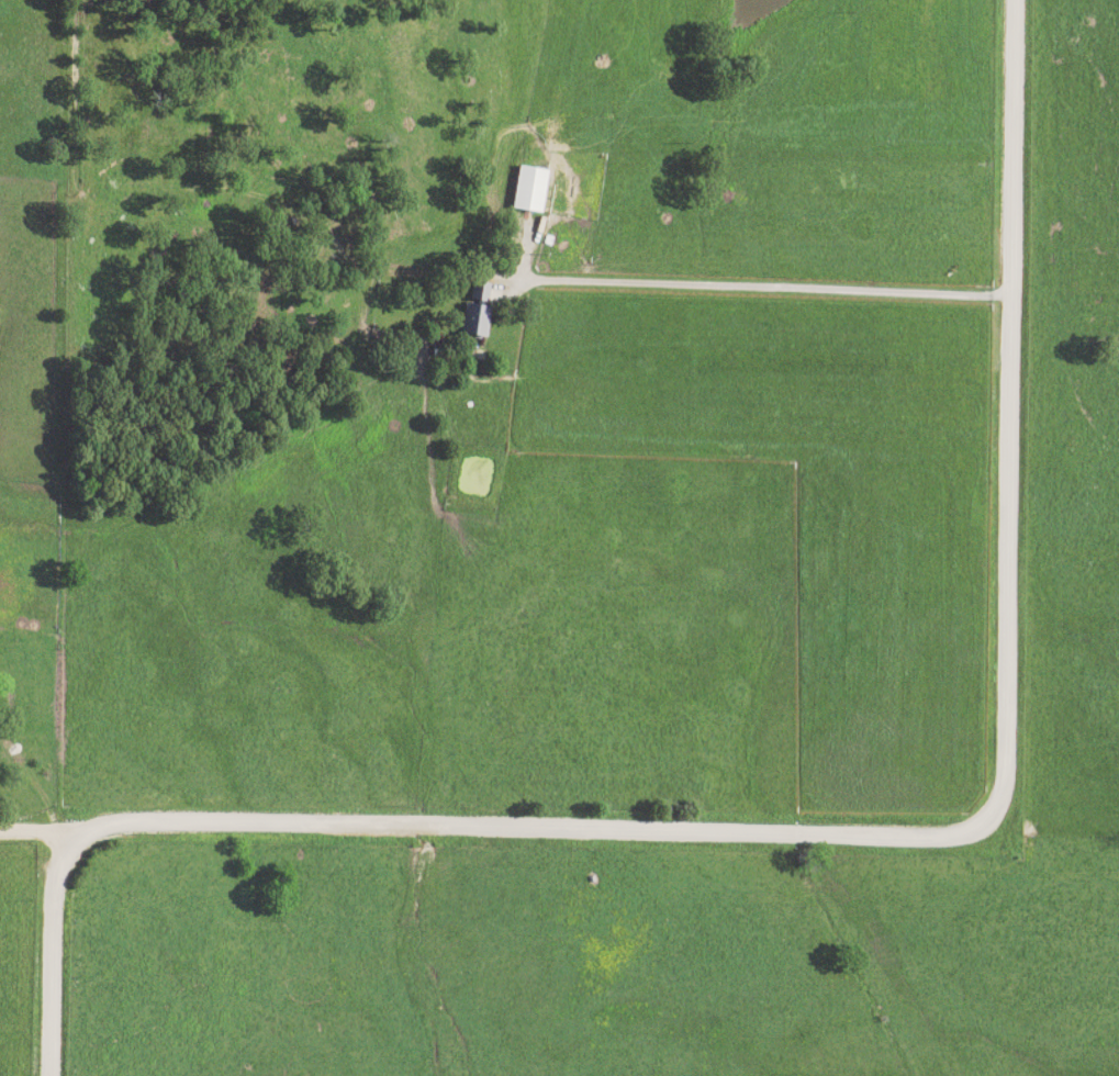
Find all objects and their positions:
building: (529, 189)
road: (756, 288)
building: (480, 293)
building: (475, 321)
road: (31, 788)
road: (26, 833)
road: (932, 833)
road: (45, 954)

